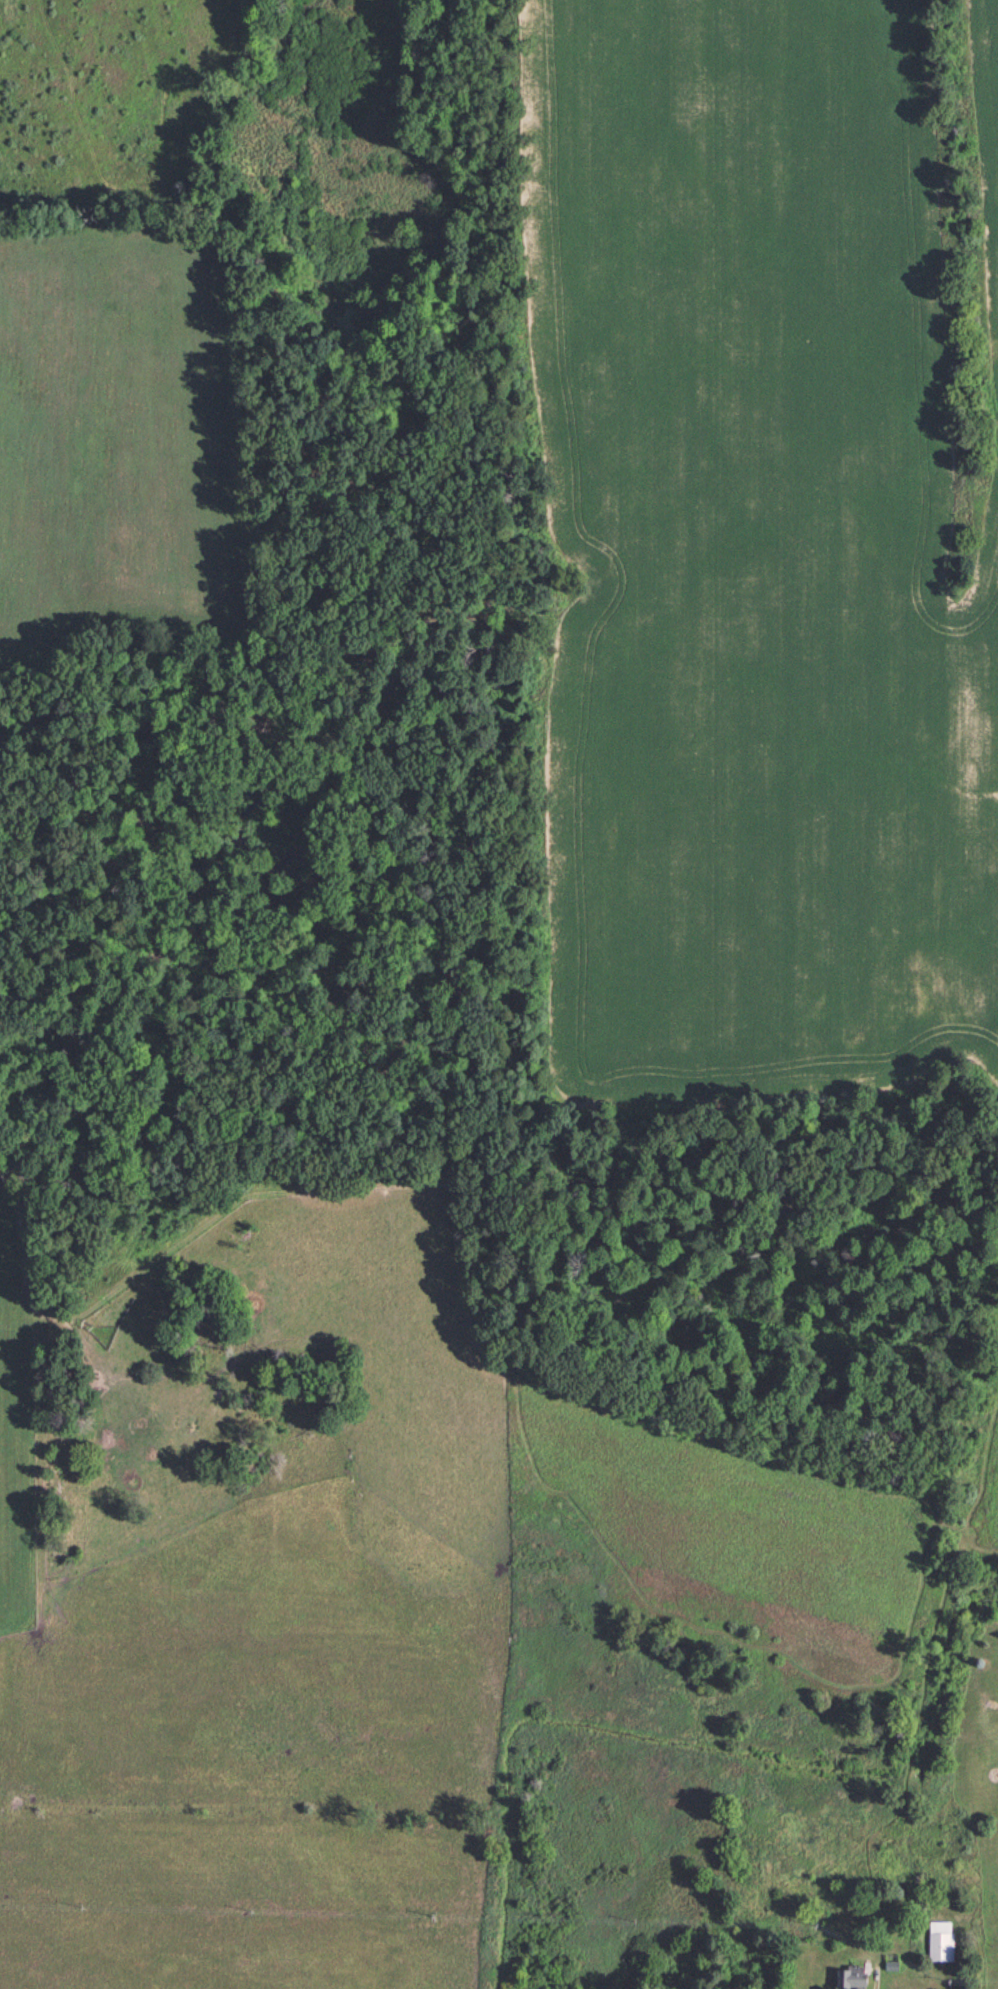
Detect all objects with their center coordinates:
crop: (118, 440)
crop: (755, 557)
crop: (9, 1450)
building: (954, 1940)

